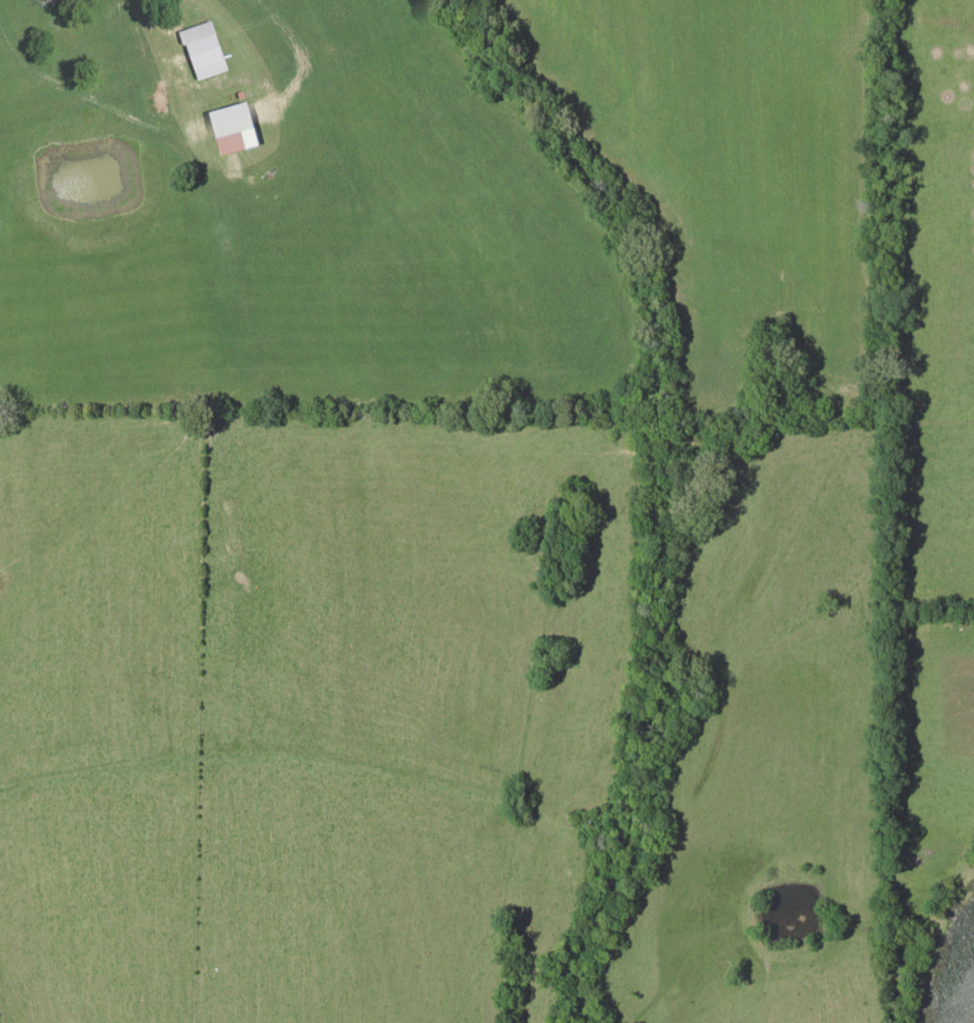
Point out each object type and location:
building: (204, 49)
building: (233, 118)

